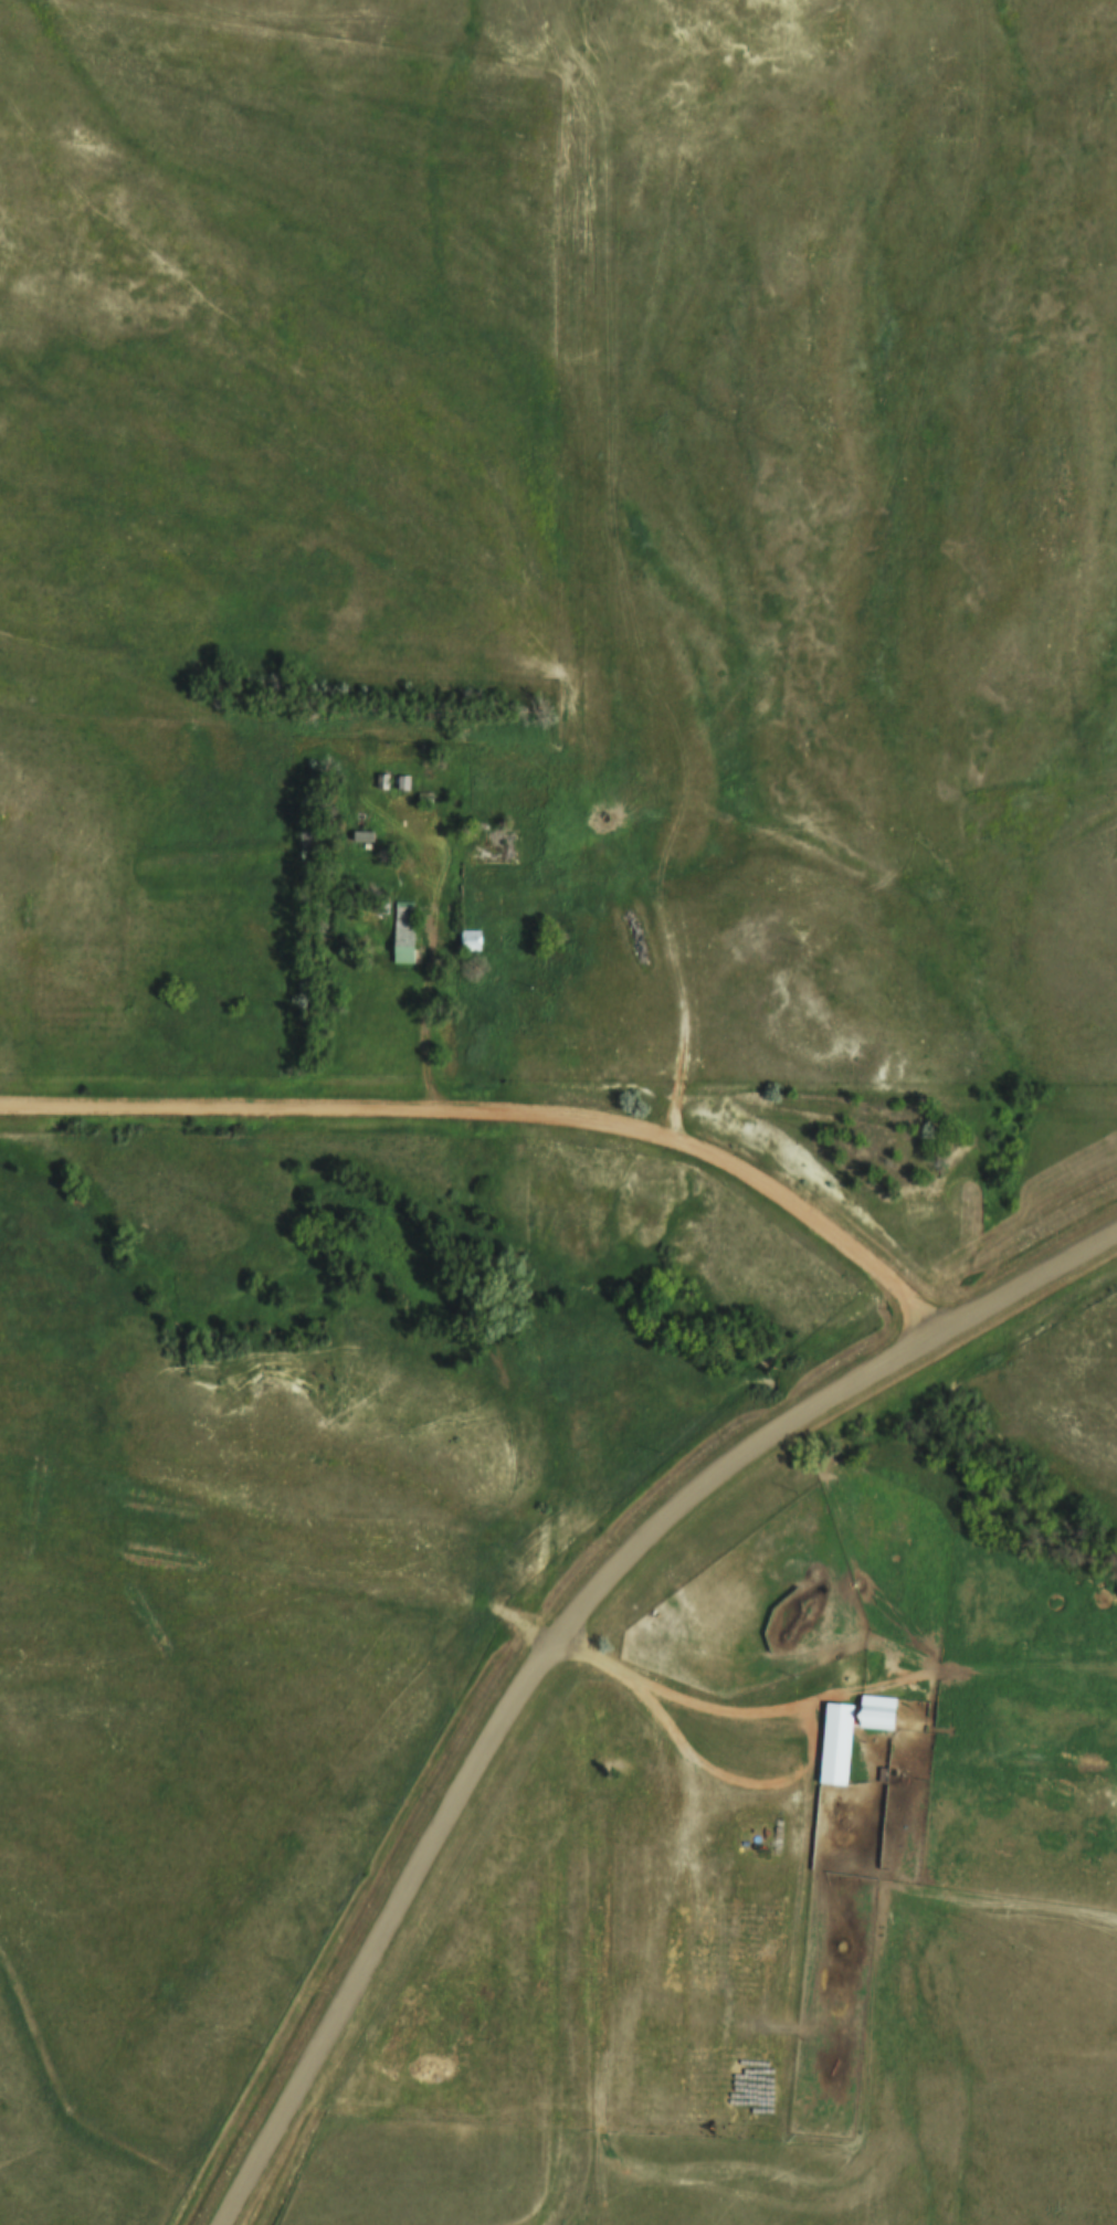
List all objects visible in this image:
building: (424, 799)
building: (362, 836)
building: (403, 930)
building: (470, 939)
road: (424, 1005)
road: (505, 1112)
road: (555, 1624)
road: (692, 1700)
building: (876, 1712)
building: (839, 1717)

